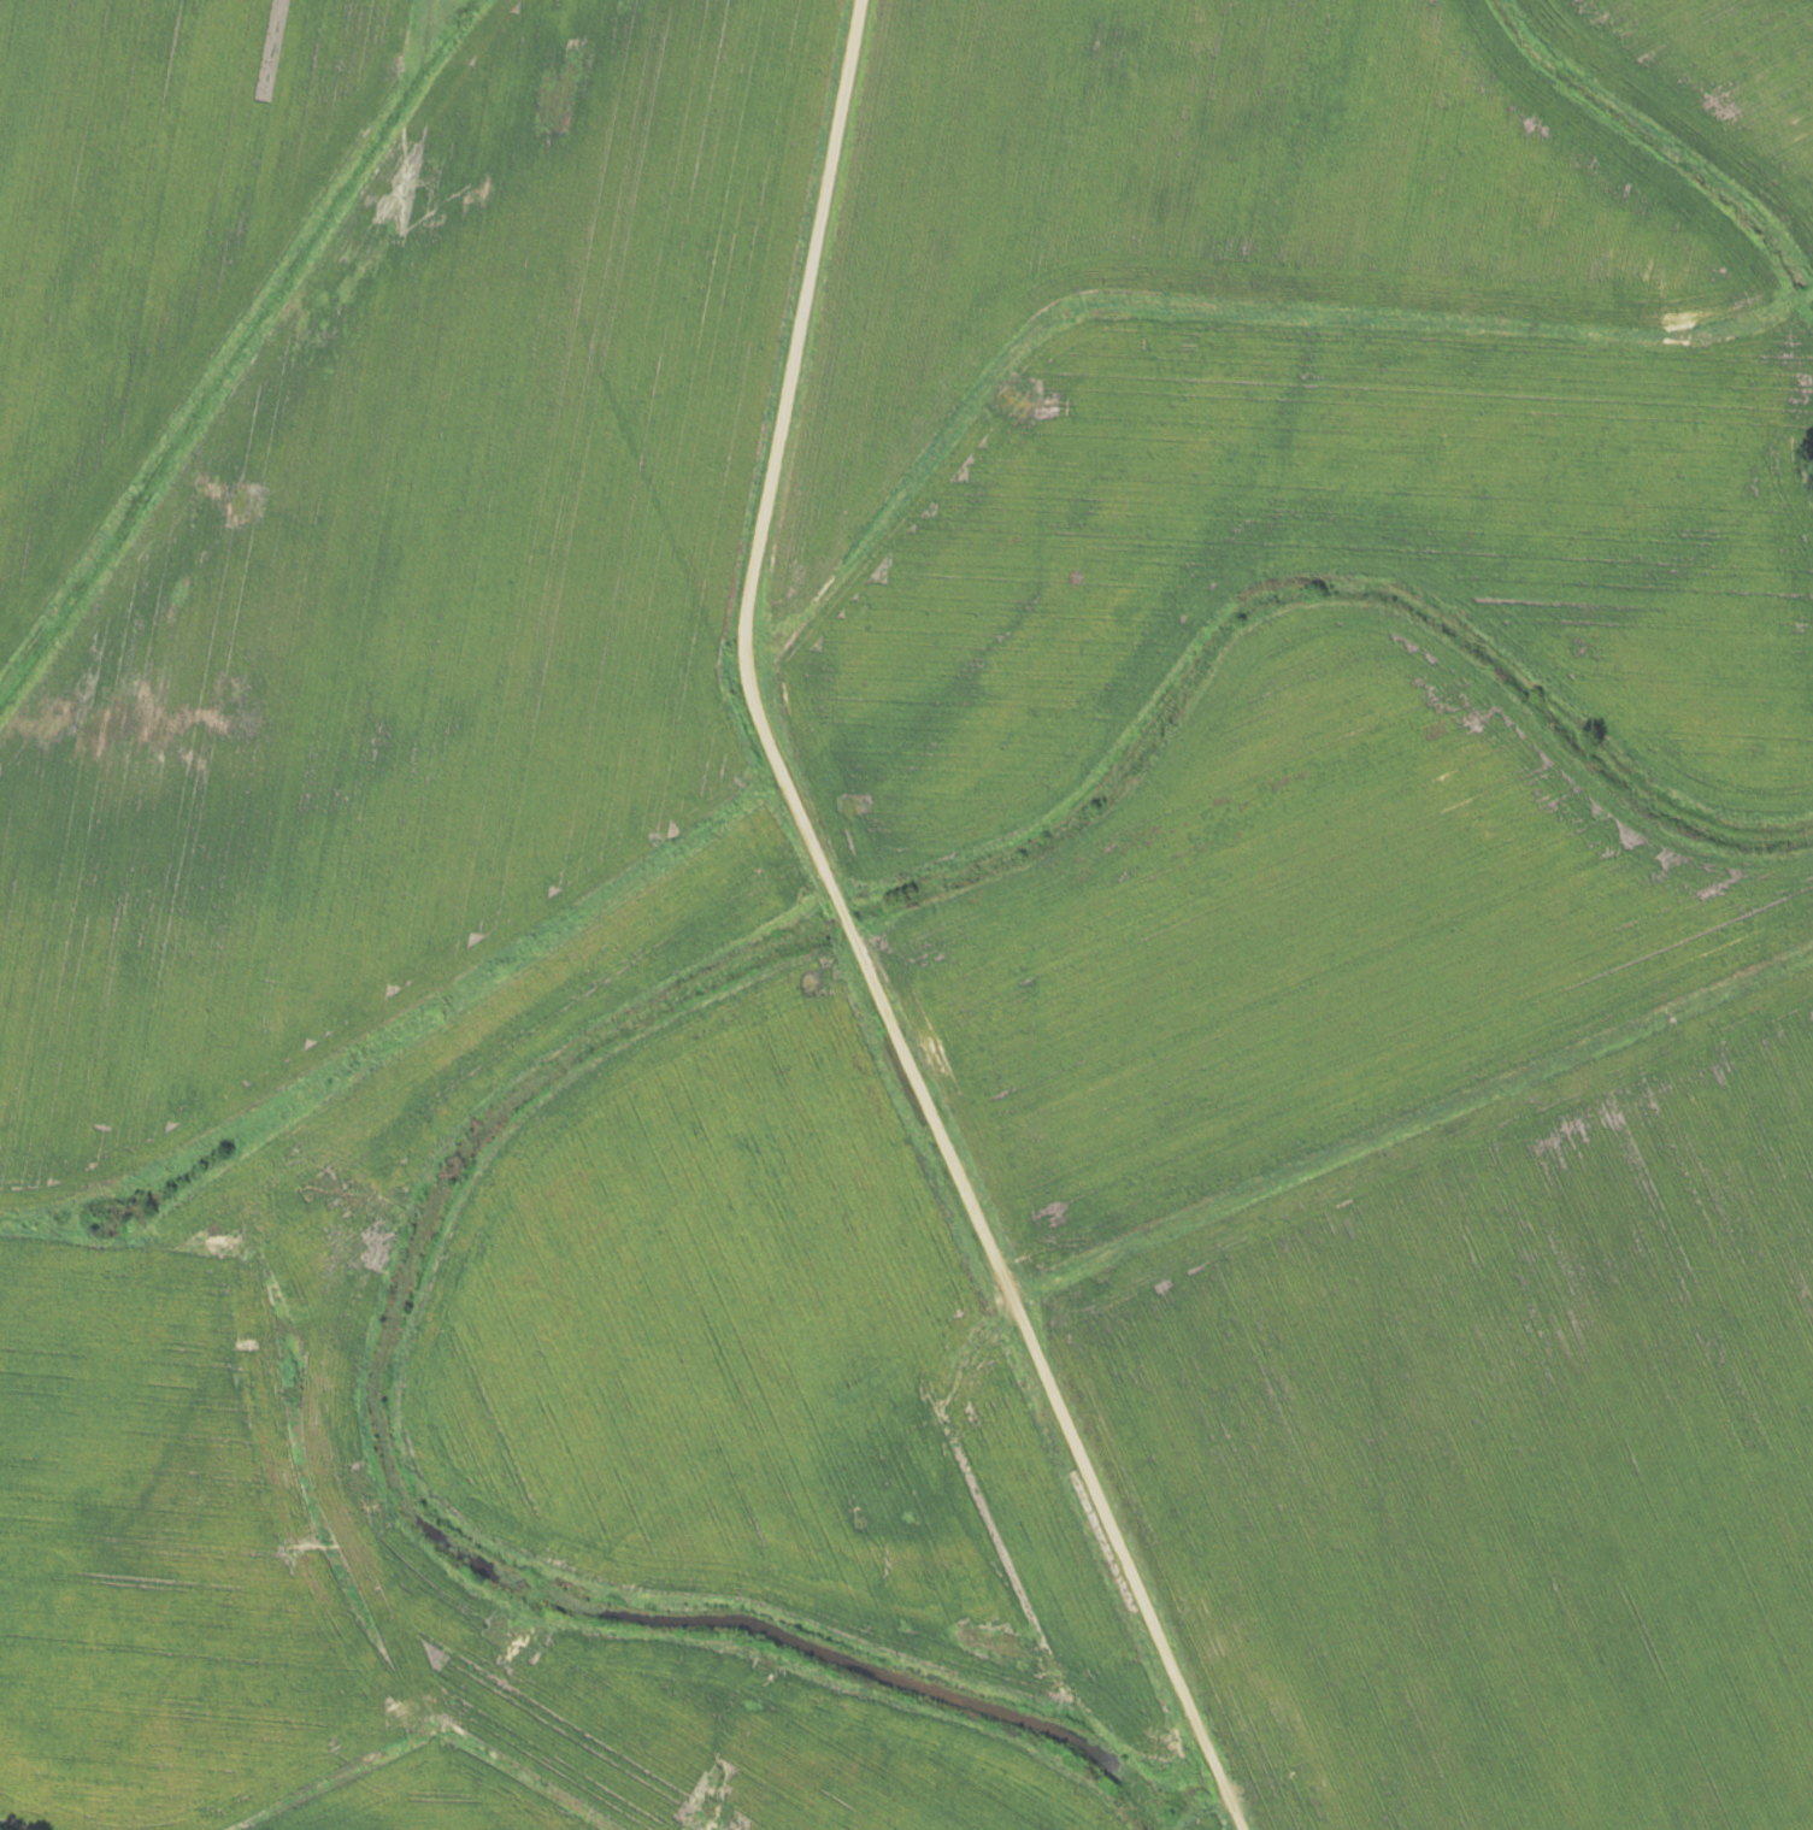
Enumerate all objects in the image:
road: (1018, 381)
road: (858, 940)
road: (1411, 1119)

